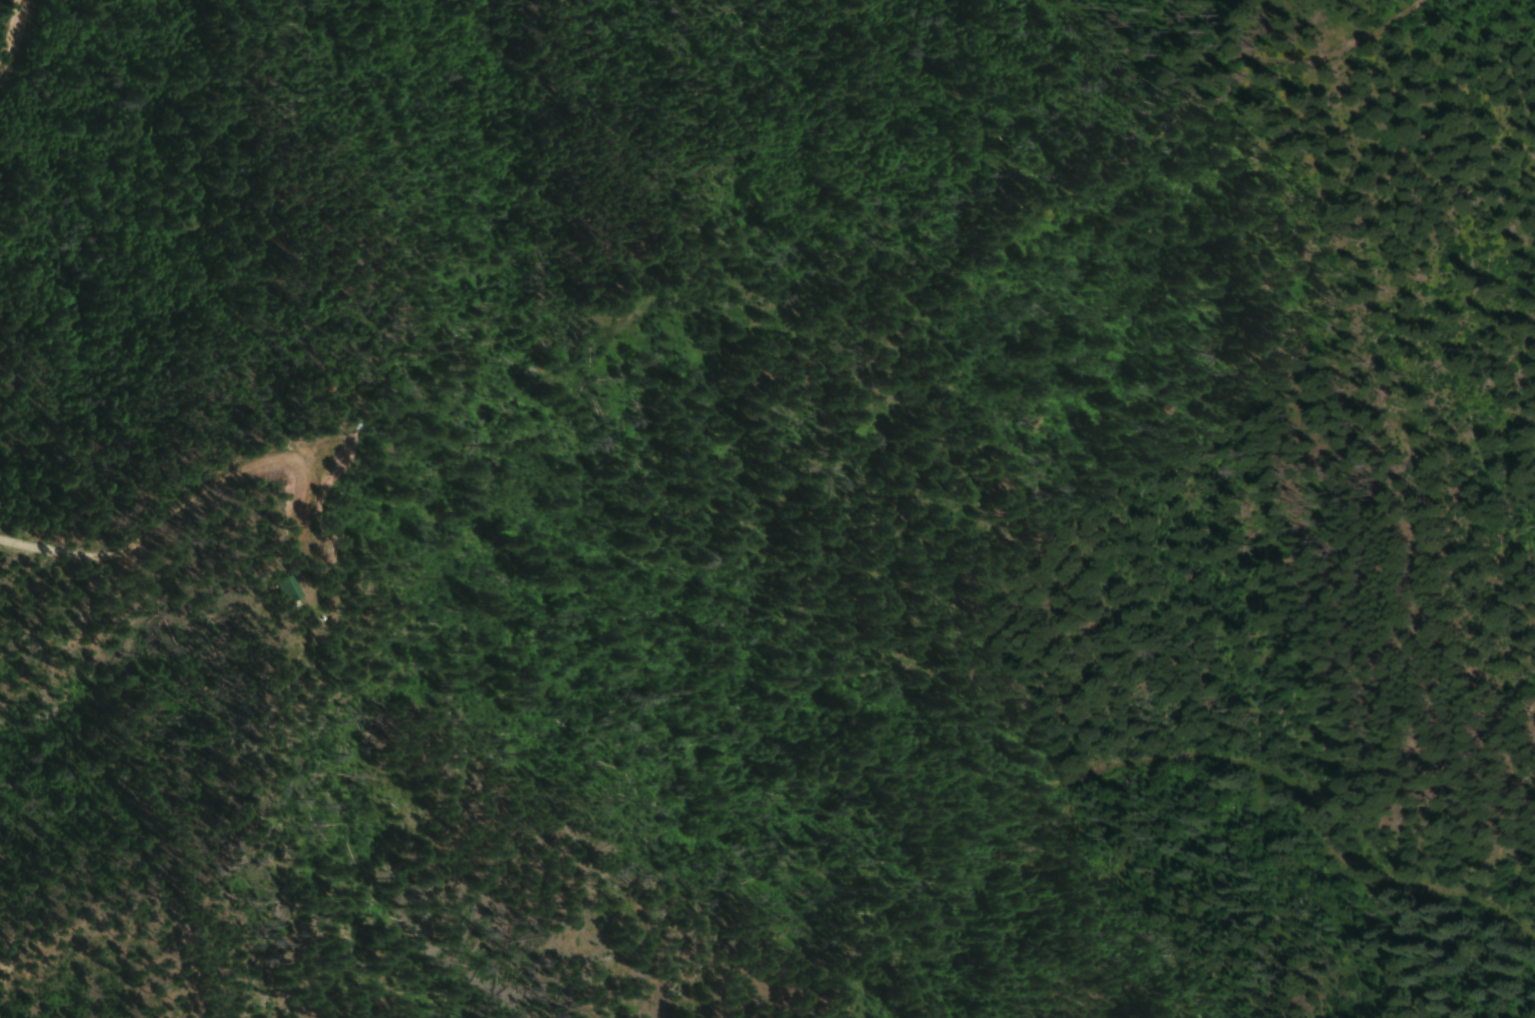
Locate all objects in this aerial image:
road: (11, 32)

